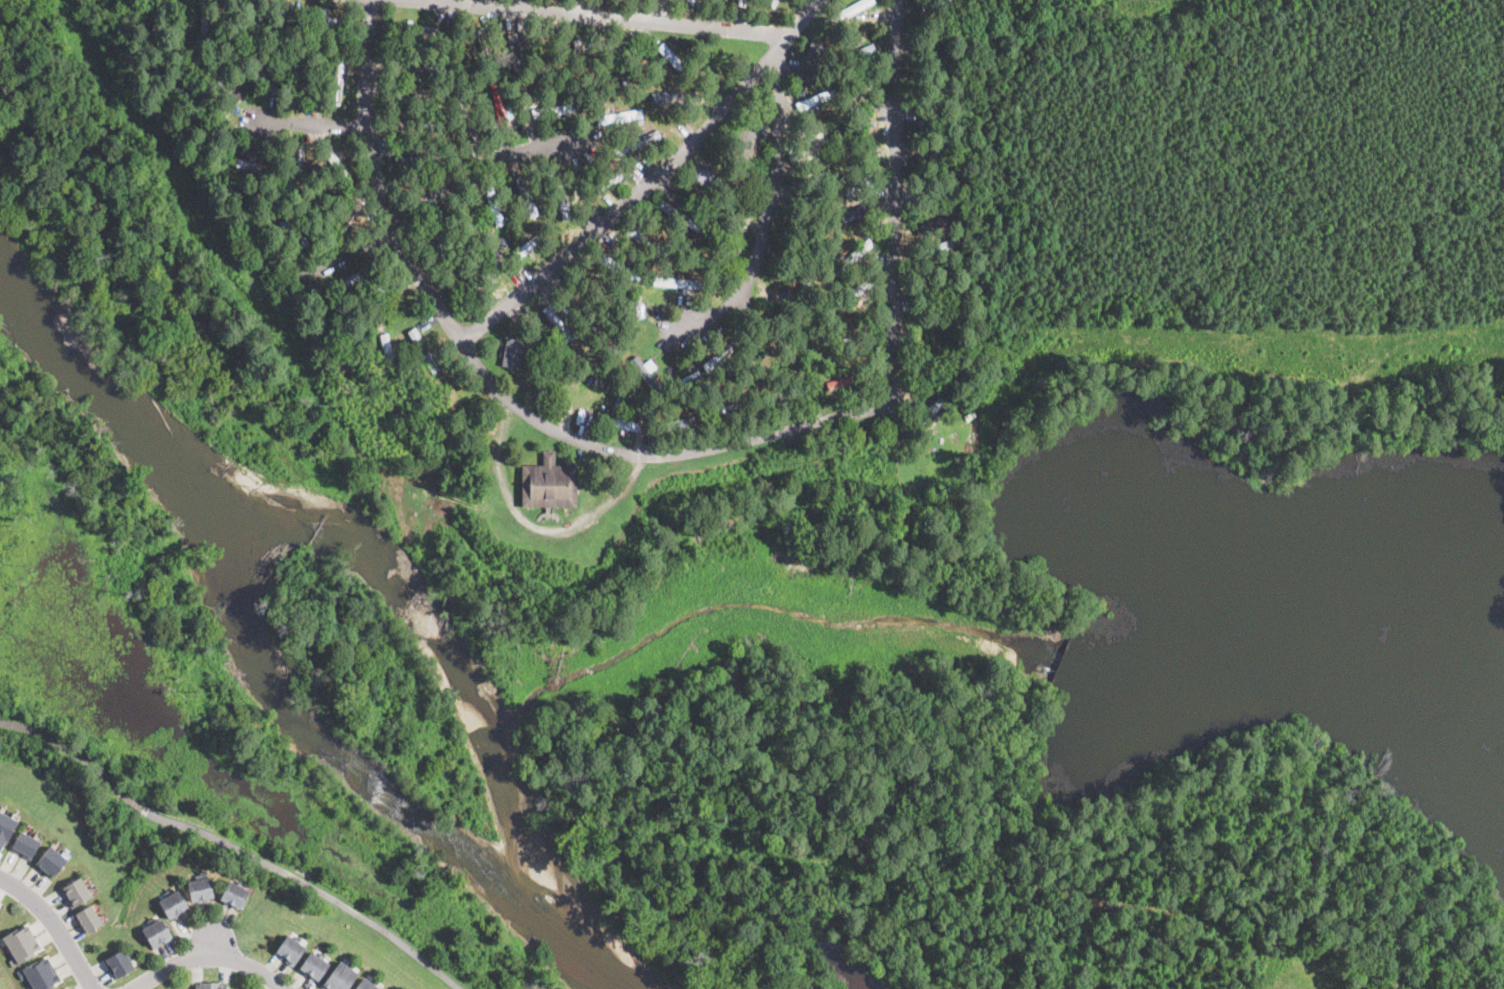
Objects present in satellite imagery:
building: (654, 0)
building: (692, 1)
building: (773, 3)
building: (800, 4)
building: (852, 10)
road: (597, 16)
building: (325, 17)
building: (203, 25)
building: (418, 28)
building: (937, 39)
building: (439, 45)
building: (449, 50)
building: (484, 50)
building: (251, 53)
building: (860, 53)
building: (669, 55)
building: (816, 55)
building: (515, 56)
building: (616, 63)
building: (403, 65)
building: (434, 67)
building: (585, 67)
building: (603, 72)
building: (812, 75)
building: (266, 76)
building: (933, 78)
building: (338, 81)
building: (226, 87)
building: (303, 90)
building: (412, 93)
building: (524, 94)
building: (676, 94)
building: (497, 101)
building: (813, 101)
building: (552, 111)
building: (939, 114)
building: (627, 116)
building: (465, 121)
road: (313, 125)
building: (424, 134)
building: (857, 140)
building: (746, 142)
building: (637, 143)
building: (944, 146)
building: (811, 150)
building: (252, 157)
building: (421, 159)
building: (252, 165)
building: (337, 165)
road: (485, 165)
building: (833, 166)
building: (527, 168)
road: (896, 169)
building: (298, 170)
building: (551, 173)
building: (821, 177)
building: (709, 178)
road: (650, 179)
building: (857, 183)
building: (935, 189)
building: (525, 196)
building: (563, 199)
building: (797, 201)
building: (726, 203)
building: (496, 208)
road: (768, 208)
building: (347, 214)
building: (679, 215)
building: (854, 215)
building: (707, 222)
building: (297, 234)
building: (645, 241)
building: (528, 245)
building: (941, 247)
building: (770, 249)
road: (347, 251)
building: (853, 258)
building: (621, 269)
building: (932, 280)
building: (351, 281)
building: (670, 282)
building: (599, 285)
building: (696, 285)
building: (855, 293)
building: (941, 313)
building: (558, 324)
building: (592, 325)
road: (407, 329)
park: (227, 335)
building: (844, 335)
building: (419, 338)
building: (390, 352)
building: (765, 352)
building: (630, 353)
building: (512, 354)
building: (930, 355)
building: (719, 356)
building: (645, 374)
building: (931, 380)
building: (846, 382)
building: (789, 394)
road: (515, 403)
building: (930, 414)
building: (617, 421)
building: (681, 423)
building: (549, 484)
river: (380, 570)
park: (186, 725)
road: (66, 746)
road: (133, 801)
building: (6, 828)
building: (26, 845)
building: (51, 862)
road: (311, 885)
building: (206, 891)
building: (76, 893)
building: (196, 893)
building: (229, 893)
building: (239, 898)
building: (0, 903)
building: (178, 904)
building: (169, 910)
building: (89, 919)
road: (55, 926)
building: (163, 932)
building: (152, 938)
road: (211, 942)
building: (21, 944)
building: (284, 945)
building: (294, 952)
building: (118, 962)
building: (308, 962)
building: (318, 969)
building: (41, 975)
building: (335, 975)
building: (346, 979)
building: (363, 984)
building: (203, 986)
building: (217, 986)
building: (373, 987)
building: (69, 988)

